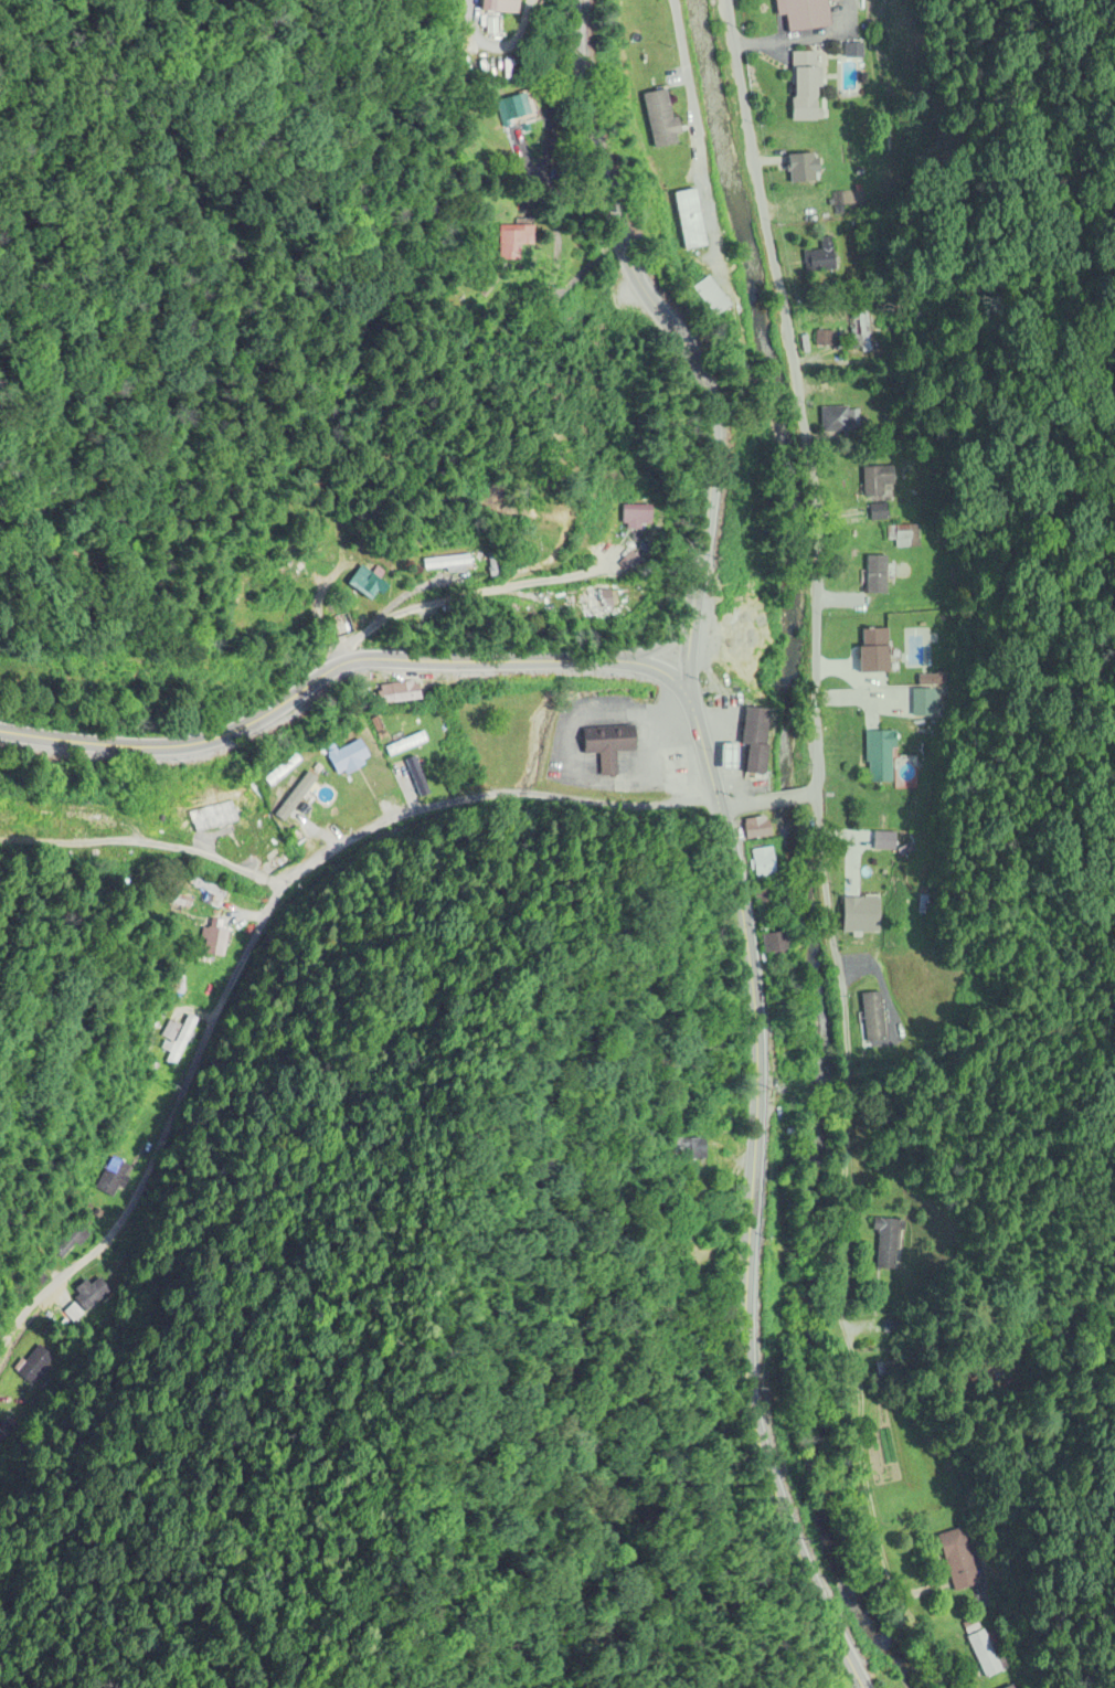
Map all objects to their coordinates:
building: (503, 6)
building: (807, 13)
building: (807, 74)
building: (514, 106)
building: (660, 117)
road: (691, 119)
building: (801, 164)
building: (691, 216)
building: (518, 241)
building: (824, 256)
building: (710, 296)
building: (821, 340)
road: (677, 342)
building: (833, 418)
building: (875, 480)
building: (878, 511)
building: (645, 517)
building: (450, 562)
building: (875, 575)
building: (370, 584)
road: (469, 599)
building: (612, 602)
building: (743, 641)
building: (874, 651)
road: (658, 652)
road: (337, 668)
building: (401, 693)
building: (755, 740)
building: (405, 744)
building: (607, 747)
building: (348, 757)
building: (879, 757)
building: (731, 758)
building: (287, 765)
road: (814, 794)
road: (806, 795)
building: (296, 799)
road: (777, 799)
road: (735, 806)
building: (757, 828)
building: (261, 836)
road: (137, 839)
building: (883, 841)
river: (795, 860)
building: (762, 862)
building: (871, 881)
building: (215, 943)
building: (774, 944)
road: (244, 955)
building: (872, 1020)
building: (177, 1034)
building: (690, 1149)
building: (110, 1176)
road: (746, 1202)
building: (68, 1240)
building: (956, 1559)
building: (983, 1654)
building: (1008, 1687)

